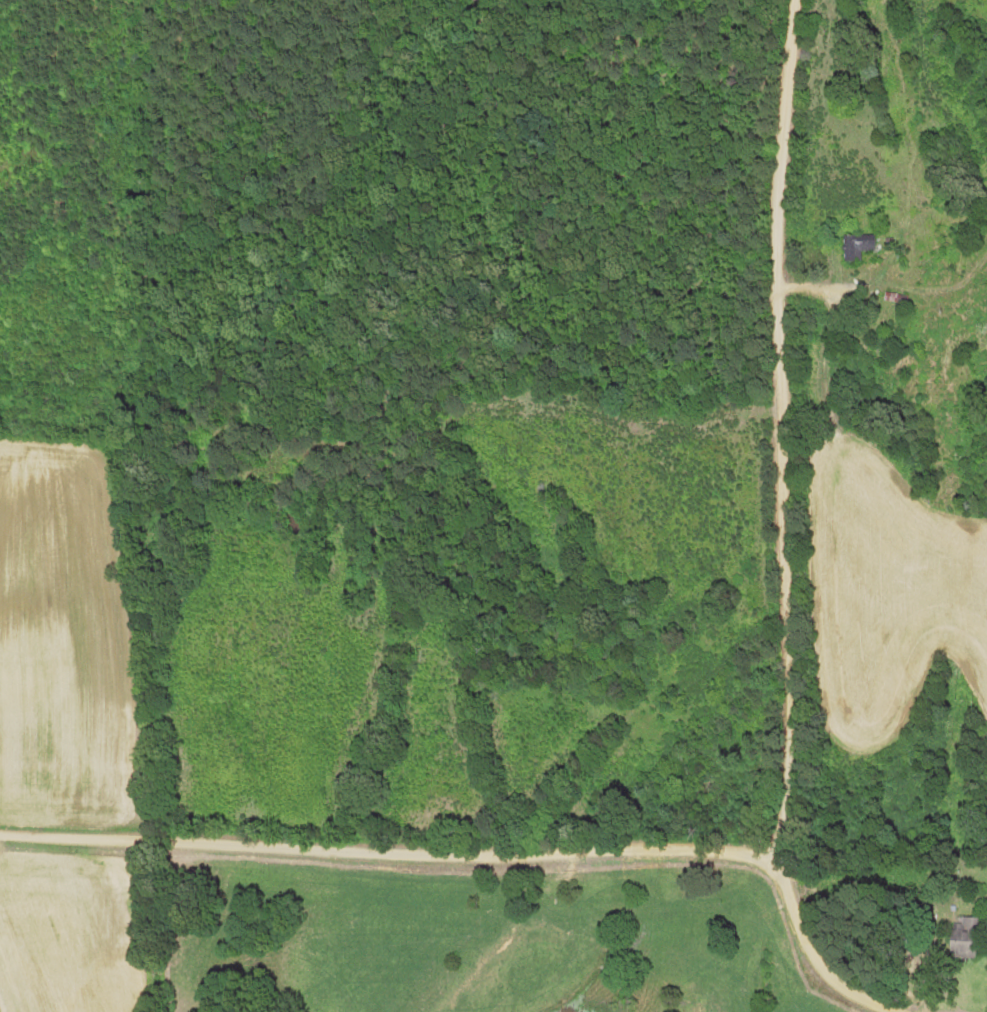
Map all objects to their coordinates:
building: (856, 245)
road: (779, 426)
road: (389, 853)
building: (960, 938)
road: (817, 946)

